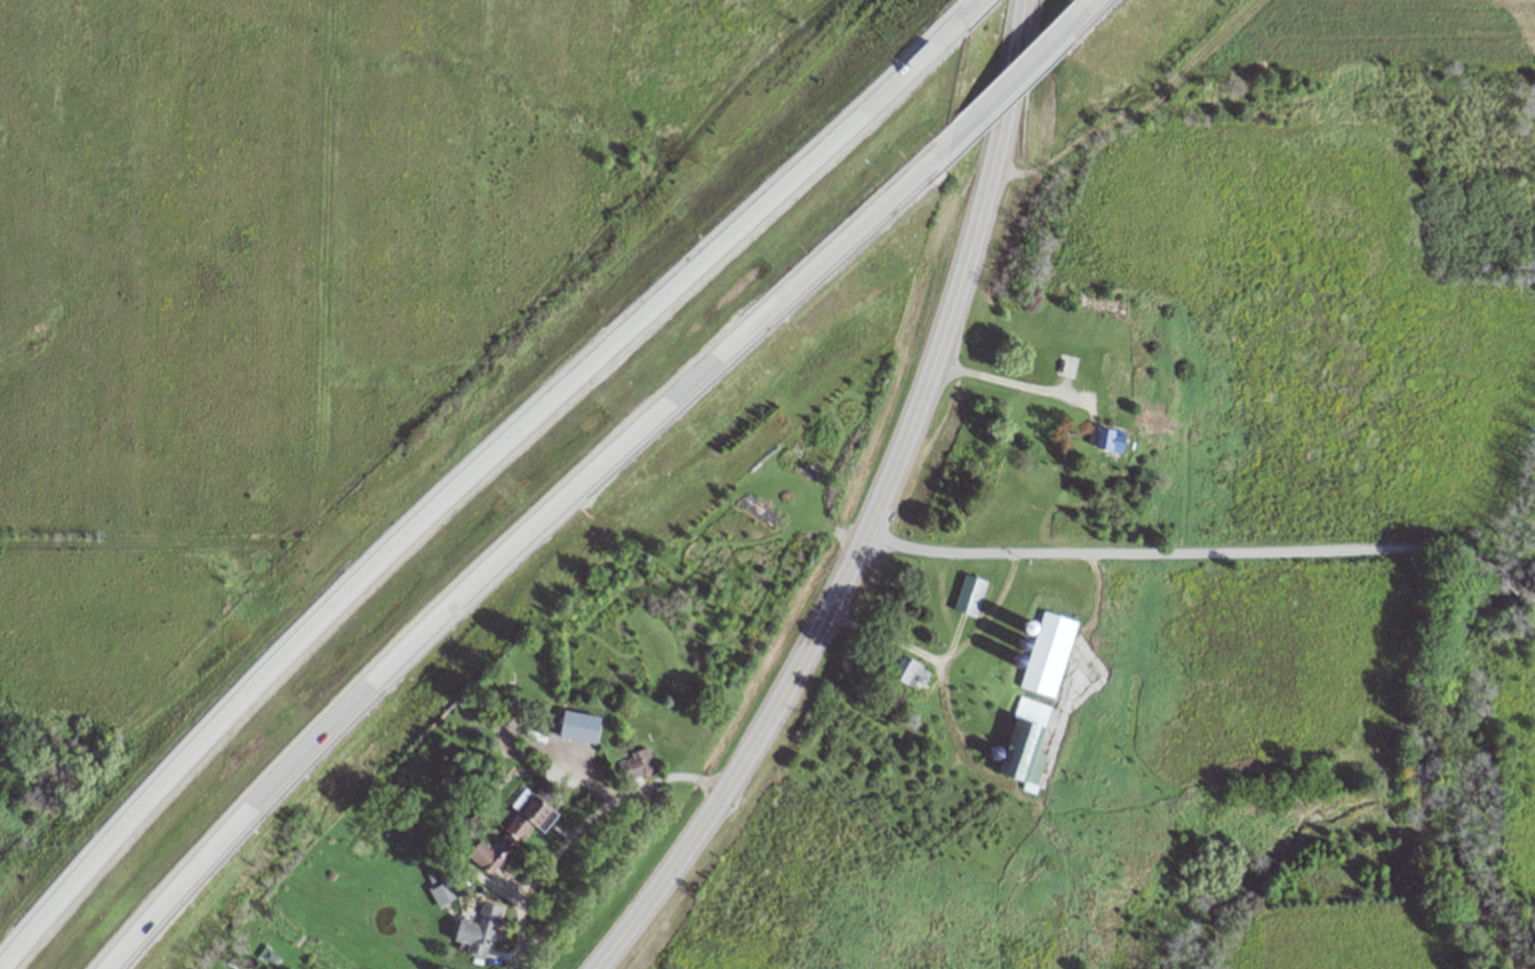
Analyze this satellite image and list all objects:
road: (973, 8)
road: (1014, 66)
road: (1009, 73)
crop: (282, 281)
building: (1065, 366)
road: (1009, 382)
building: (1114, 440)
road: (475, 472)
road: (1192, 548)
road: (528, 555)
road: (853, 576)
road: (1512, 586)
building: (970, 594)
road: (1527, 597)
road: (875, 645)
building: (1048, 654)
building: (907, 669)
building: (1031, 737)
building: (638, 764)
building: (533, 811)
road: (579, 820)
building: (492, 852)
building: (440, 894)
building: (478, 931)

